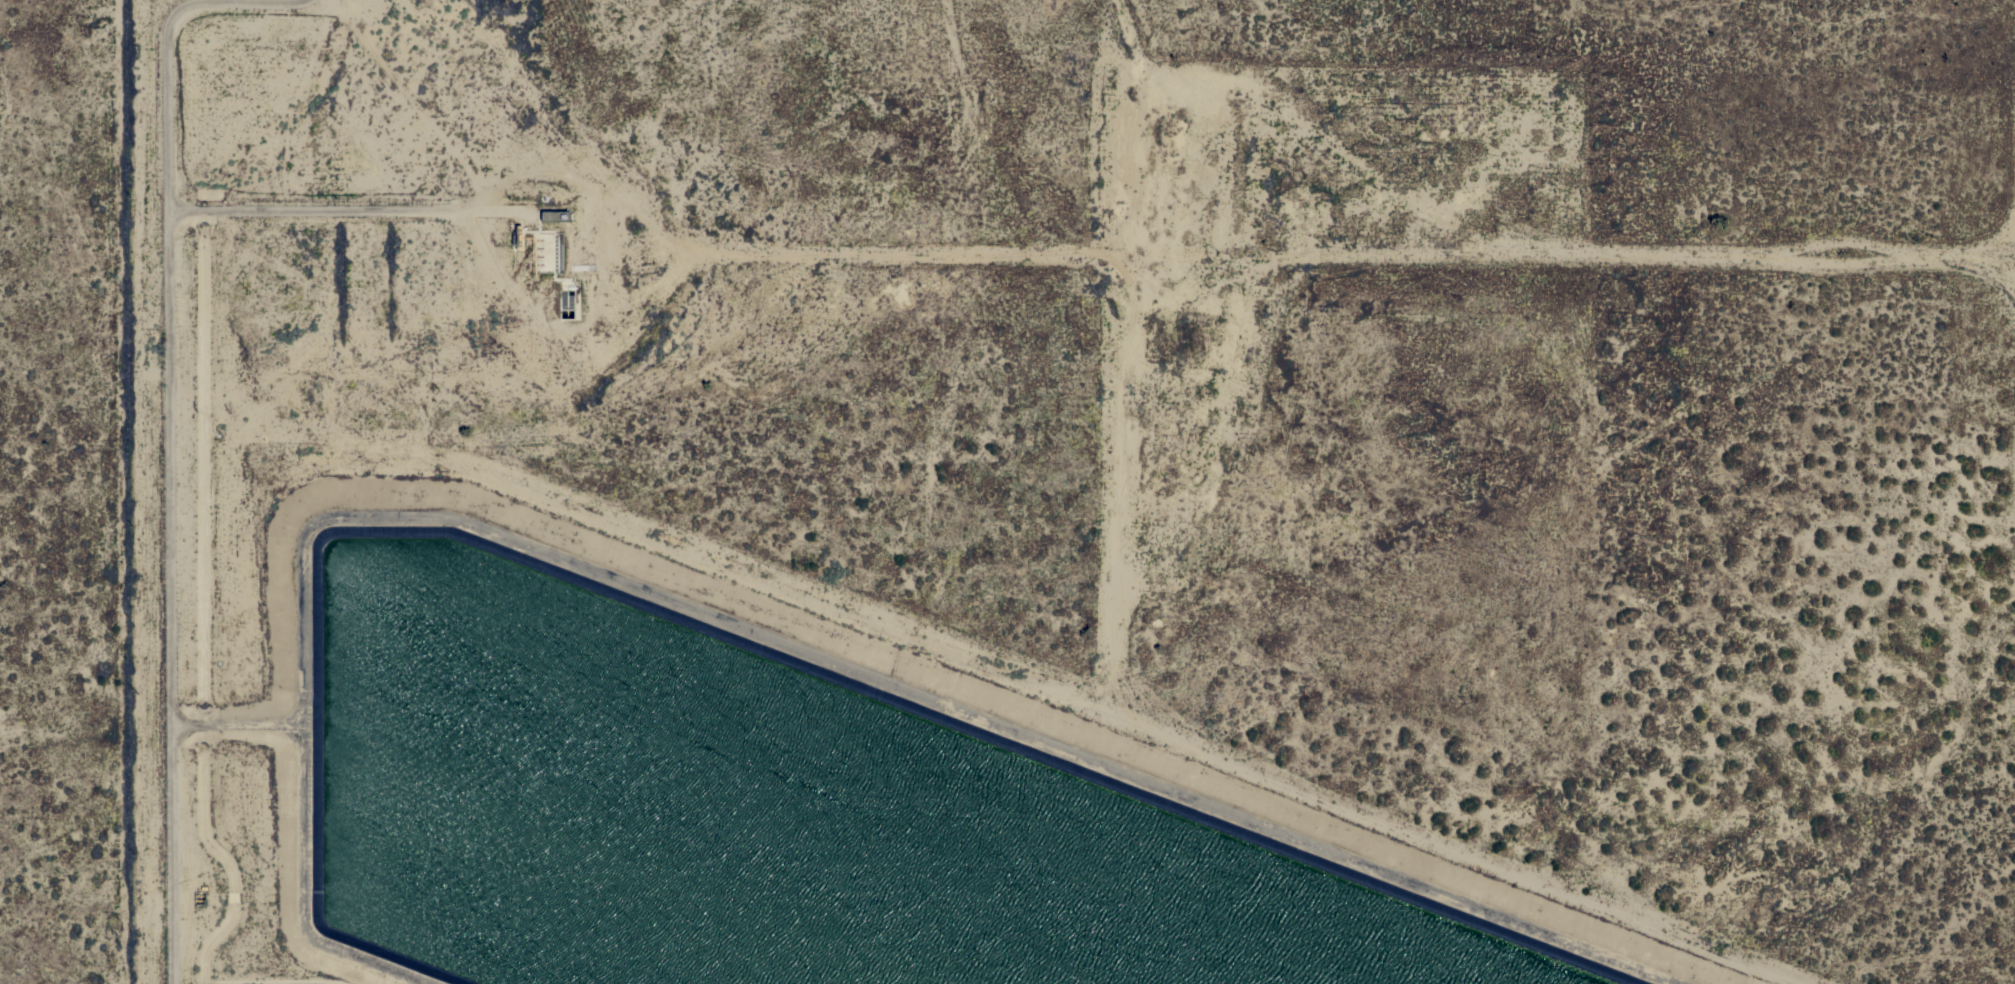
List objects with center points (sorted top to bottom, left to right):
road: (350, 209)
building: (554, 216)
road: (175, 429)
wastewater plant: (787, 799)

